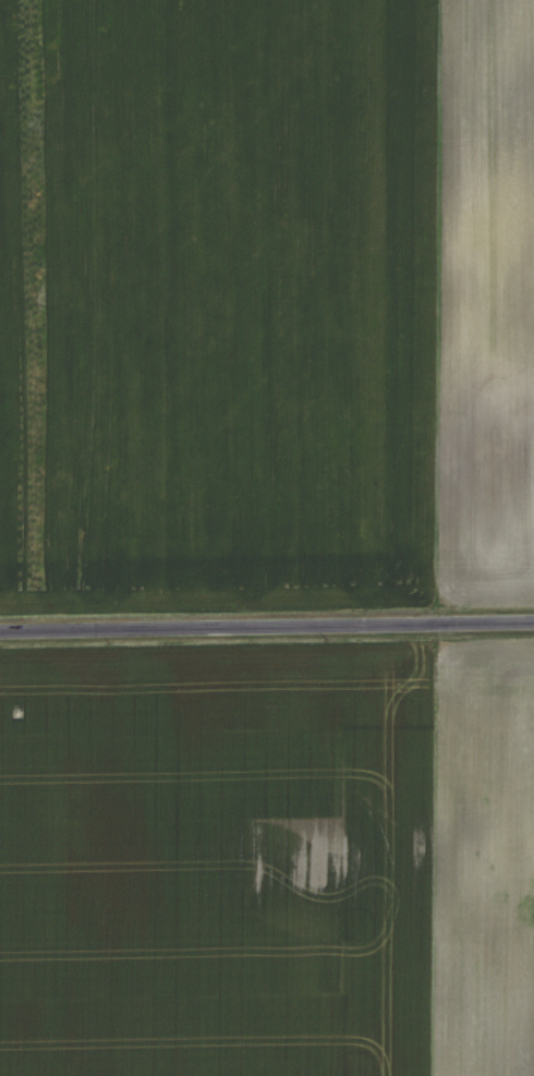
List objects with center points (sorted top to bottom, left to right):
road: (267, 631)
crop: (268, 862)

